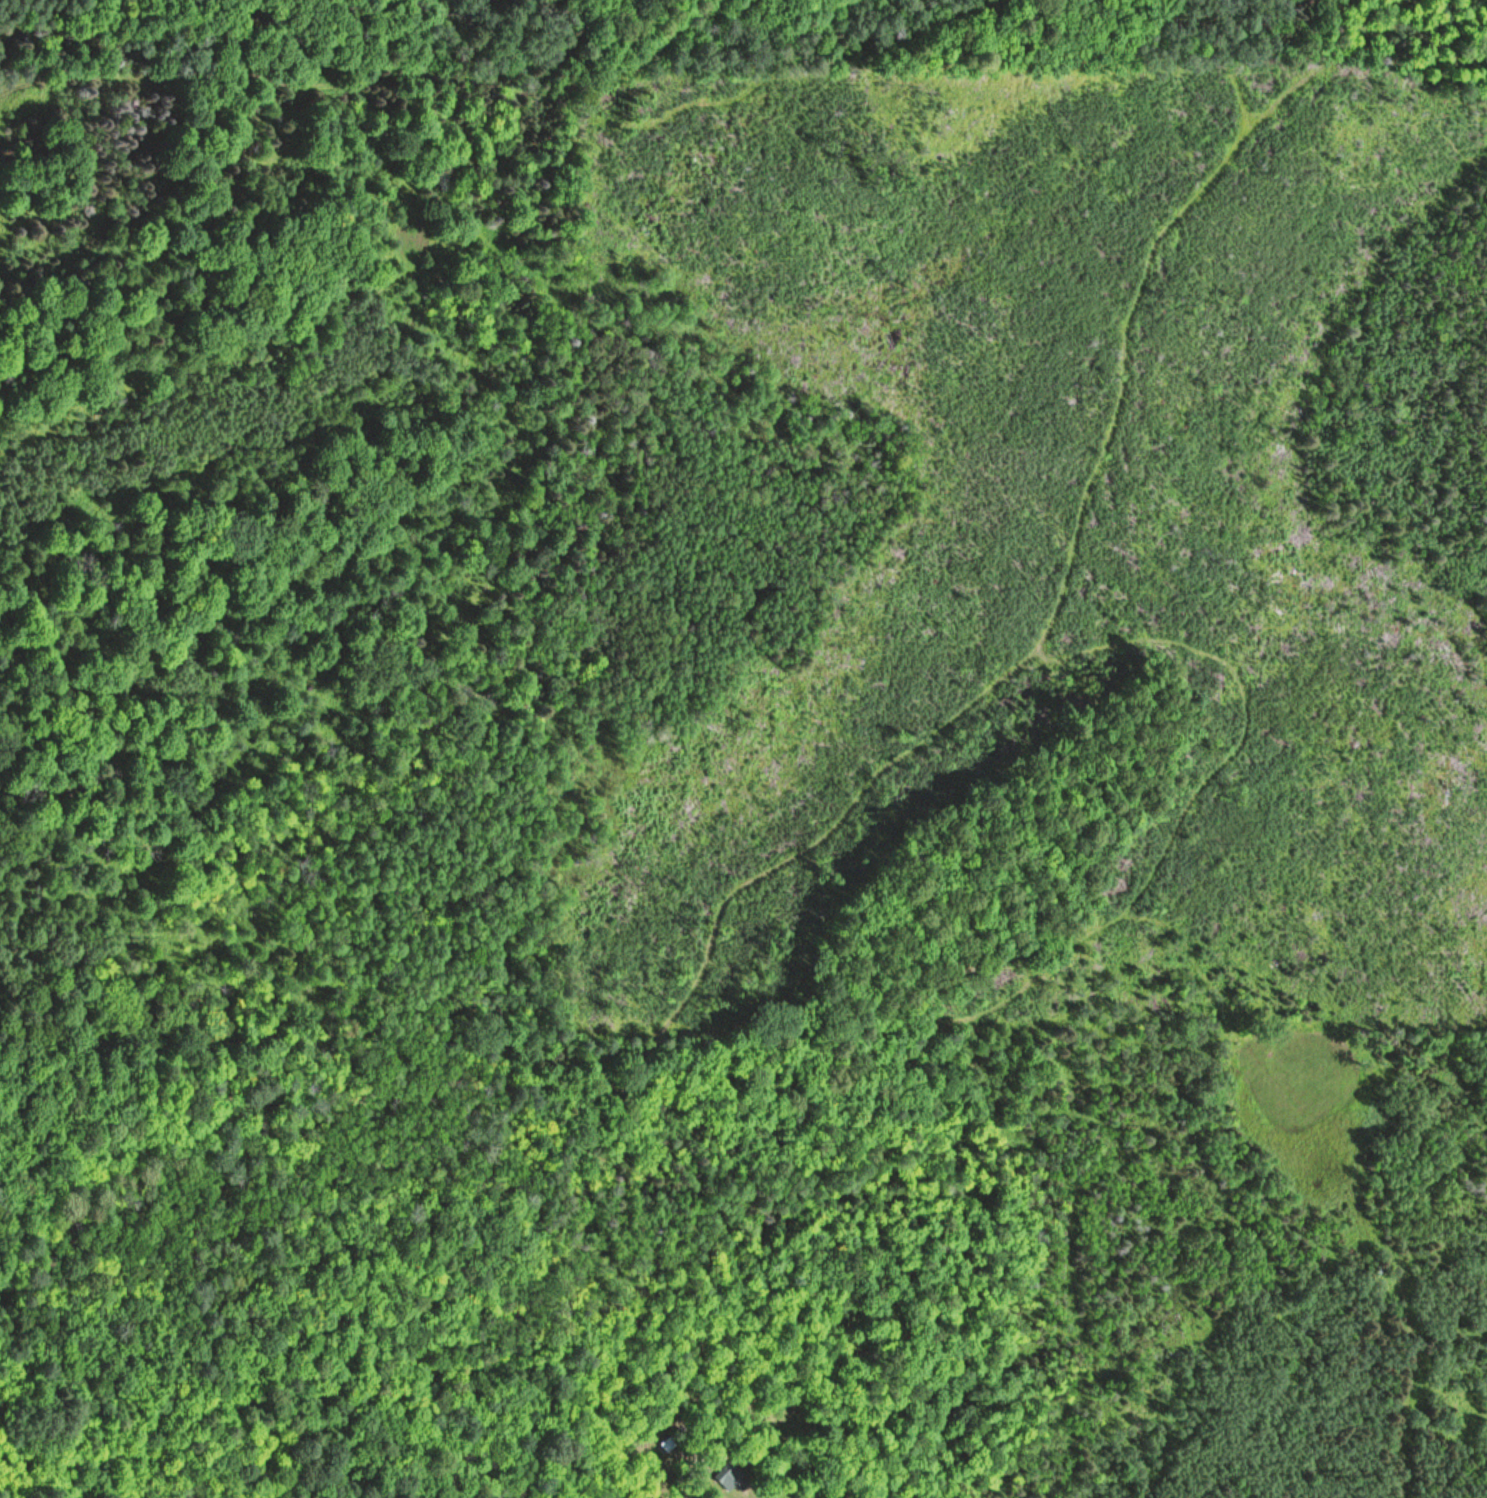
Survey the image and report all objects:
building: (729, 1476)
road: (963, 1490)

